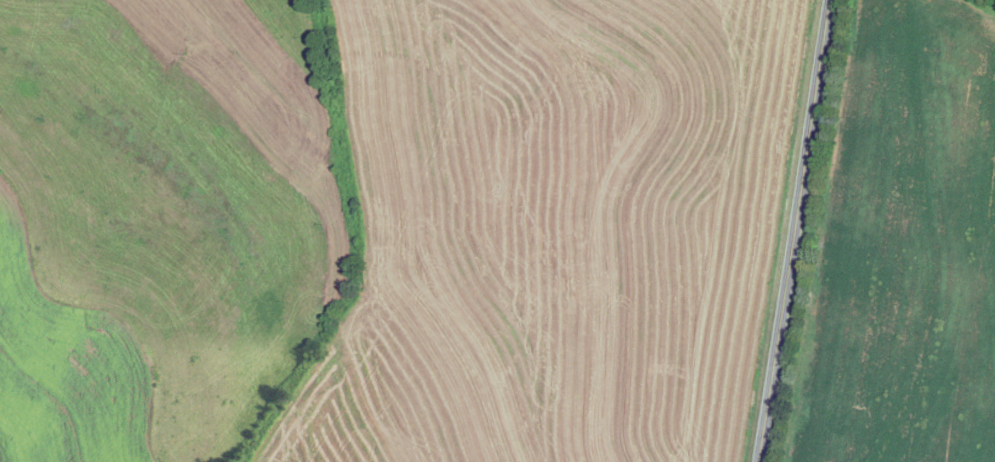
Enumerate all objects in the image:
road: (794, 231)

